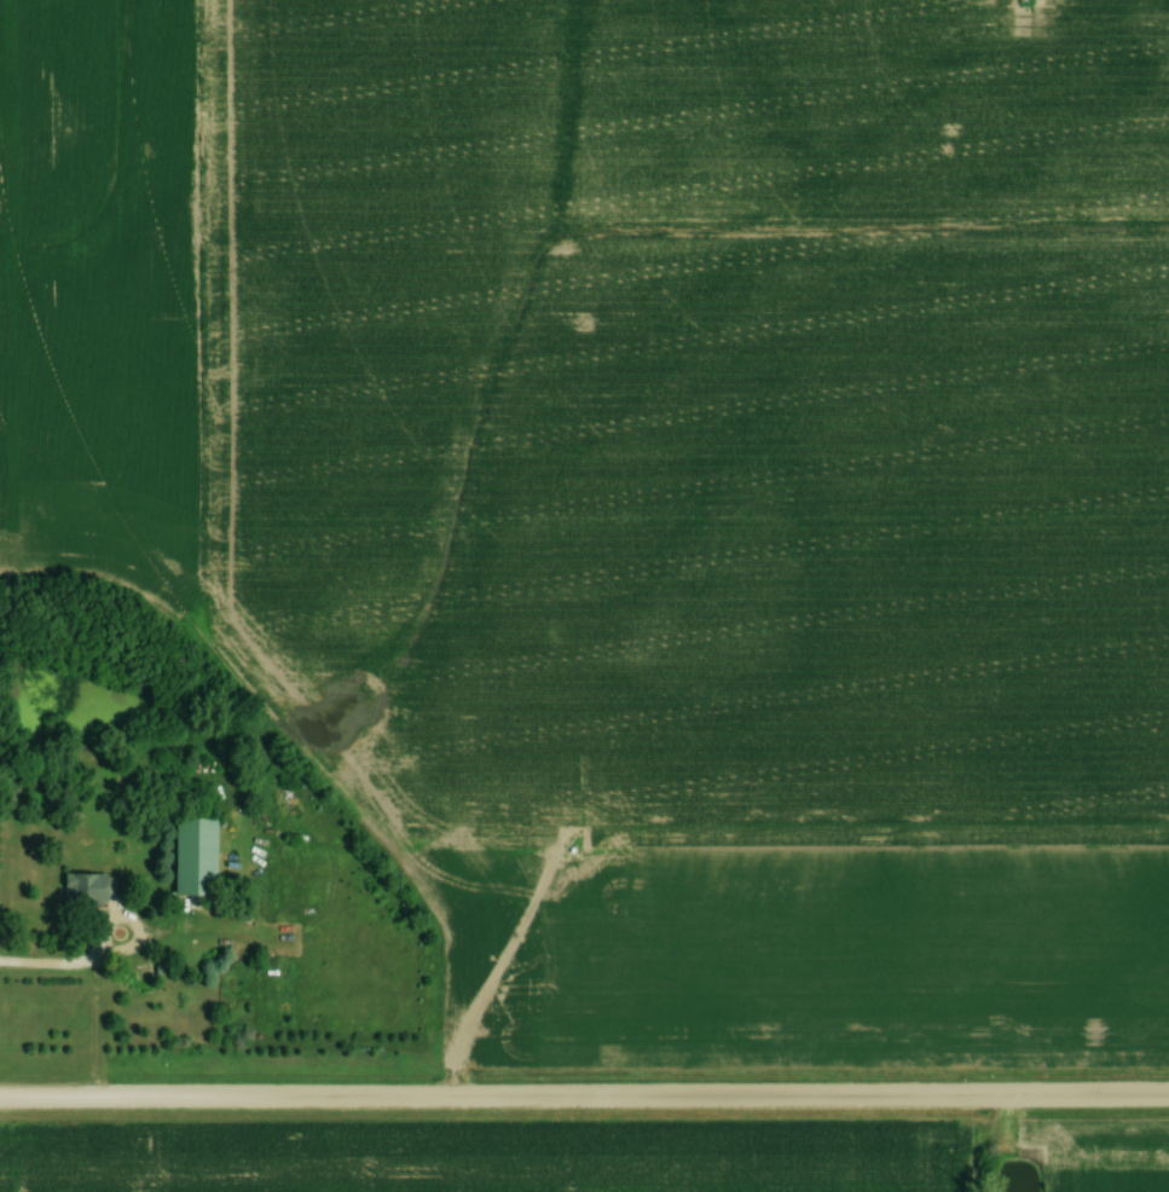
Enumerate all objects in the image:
building: (203, 851)
building: (83, 889)
road: (89, 988)
road: (584, 1098)

